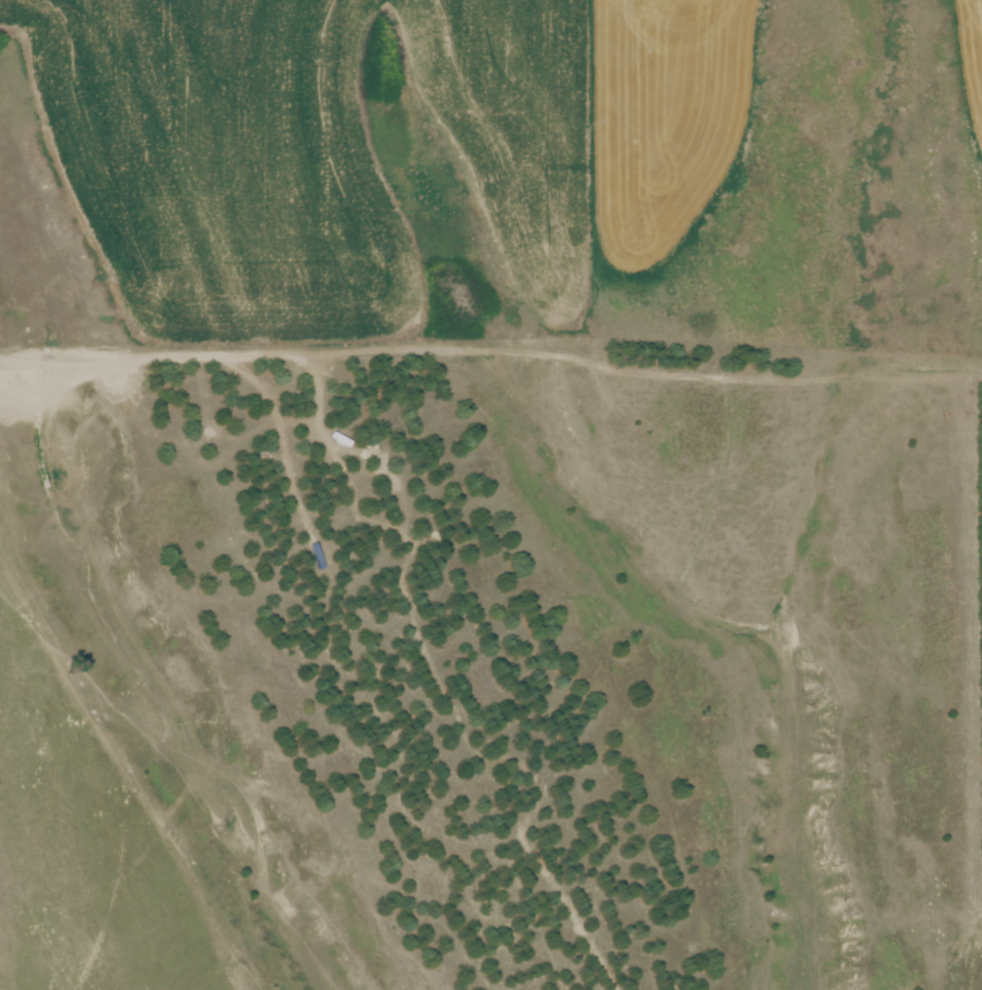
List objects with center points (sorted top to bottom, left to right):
crop: (970, 49)
crop: (663, 110)

